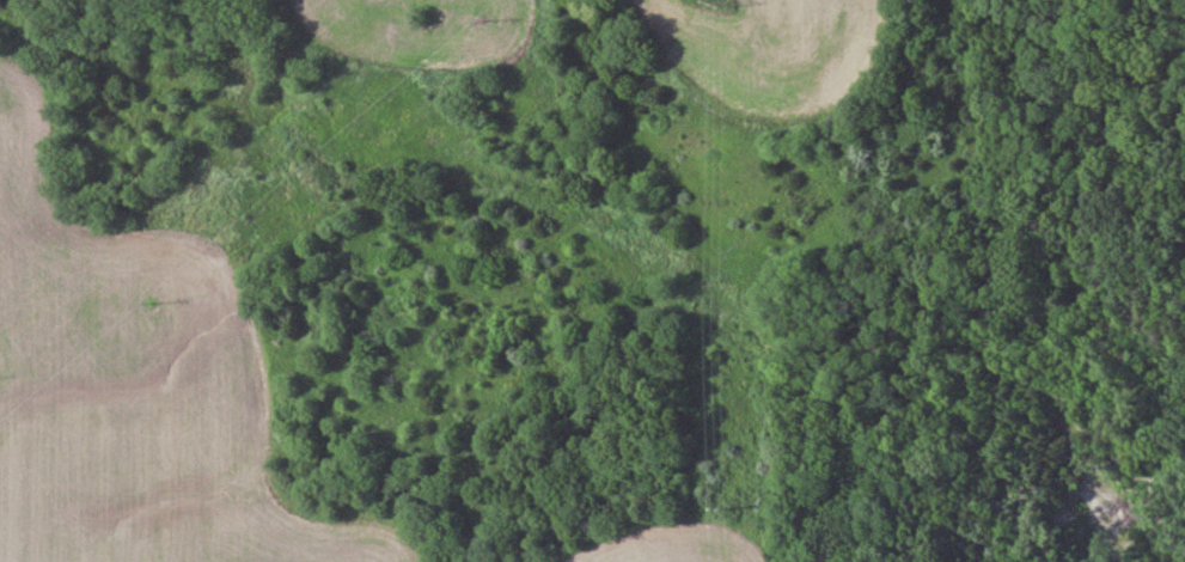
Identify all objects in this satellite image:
power tower: (717, 474)

